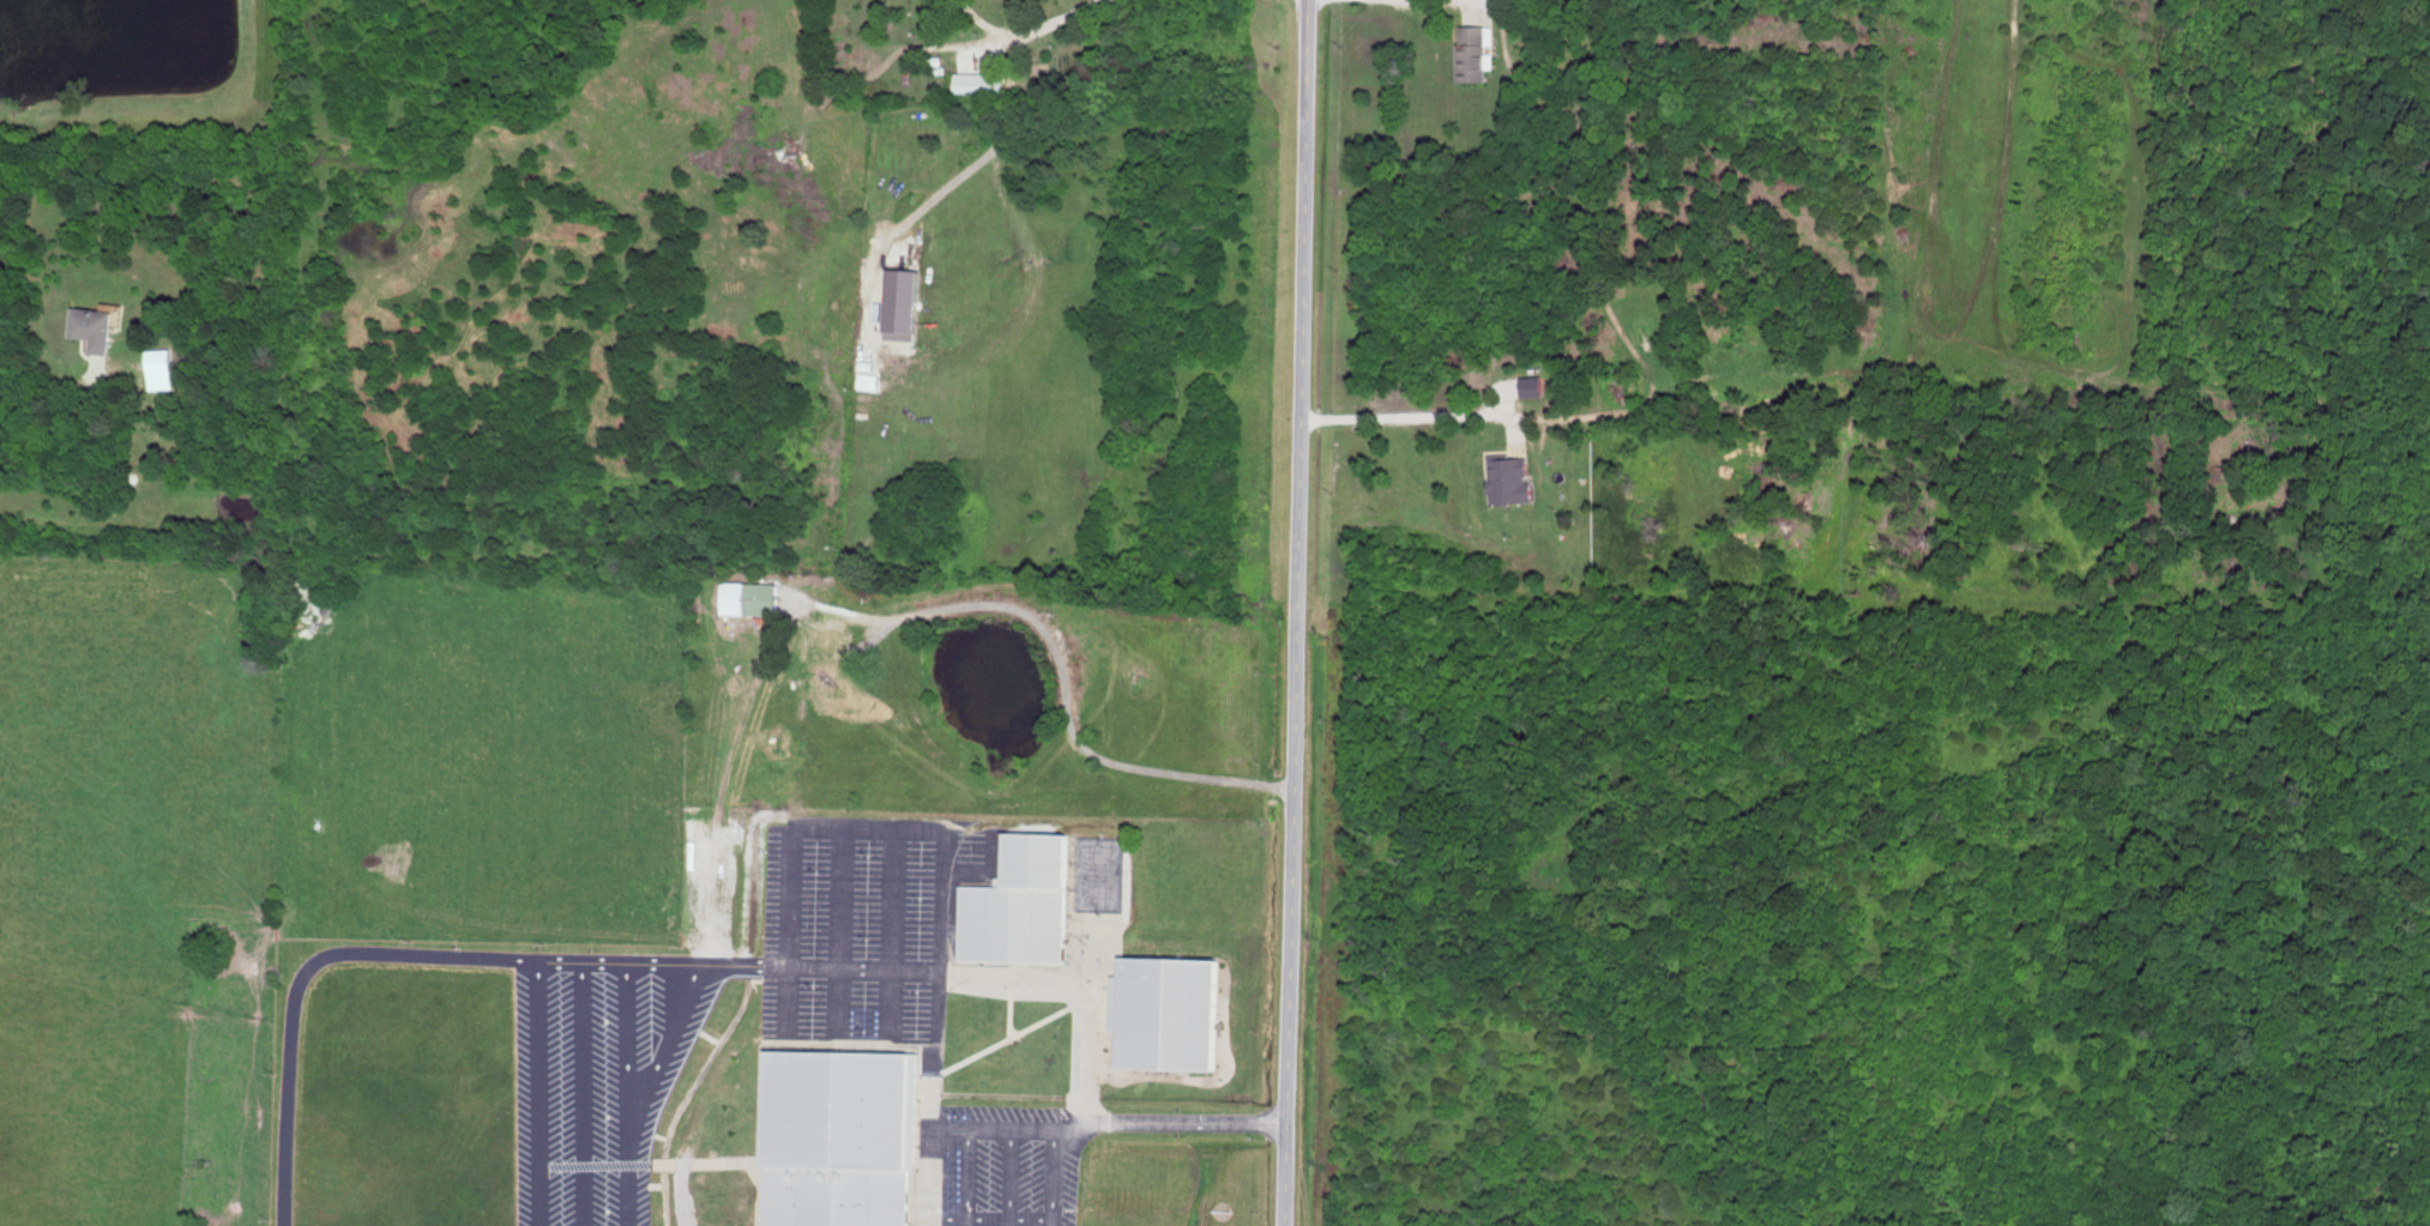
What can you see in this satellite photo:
road: (1393, 5)
road: (1068, 13)
building: (1476, 49)
building: (981, 83)
building: (905, 297)
building: (96, 326)
building: (162, 367)
road: (49, 383)
building: (1536, 383)
road: (1404, 413)
building: (1513, 478)
building: (753, 597)
road: (1294, 612)
building: (1023, 902)
road: (423, 953)
road: (876, 967)
building: (1172, 1011)
road: (1184, 1122)
road: (979, 1128)
building: (843, 1139)
road: (1011, 1177)
road: (988, 1216)

